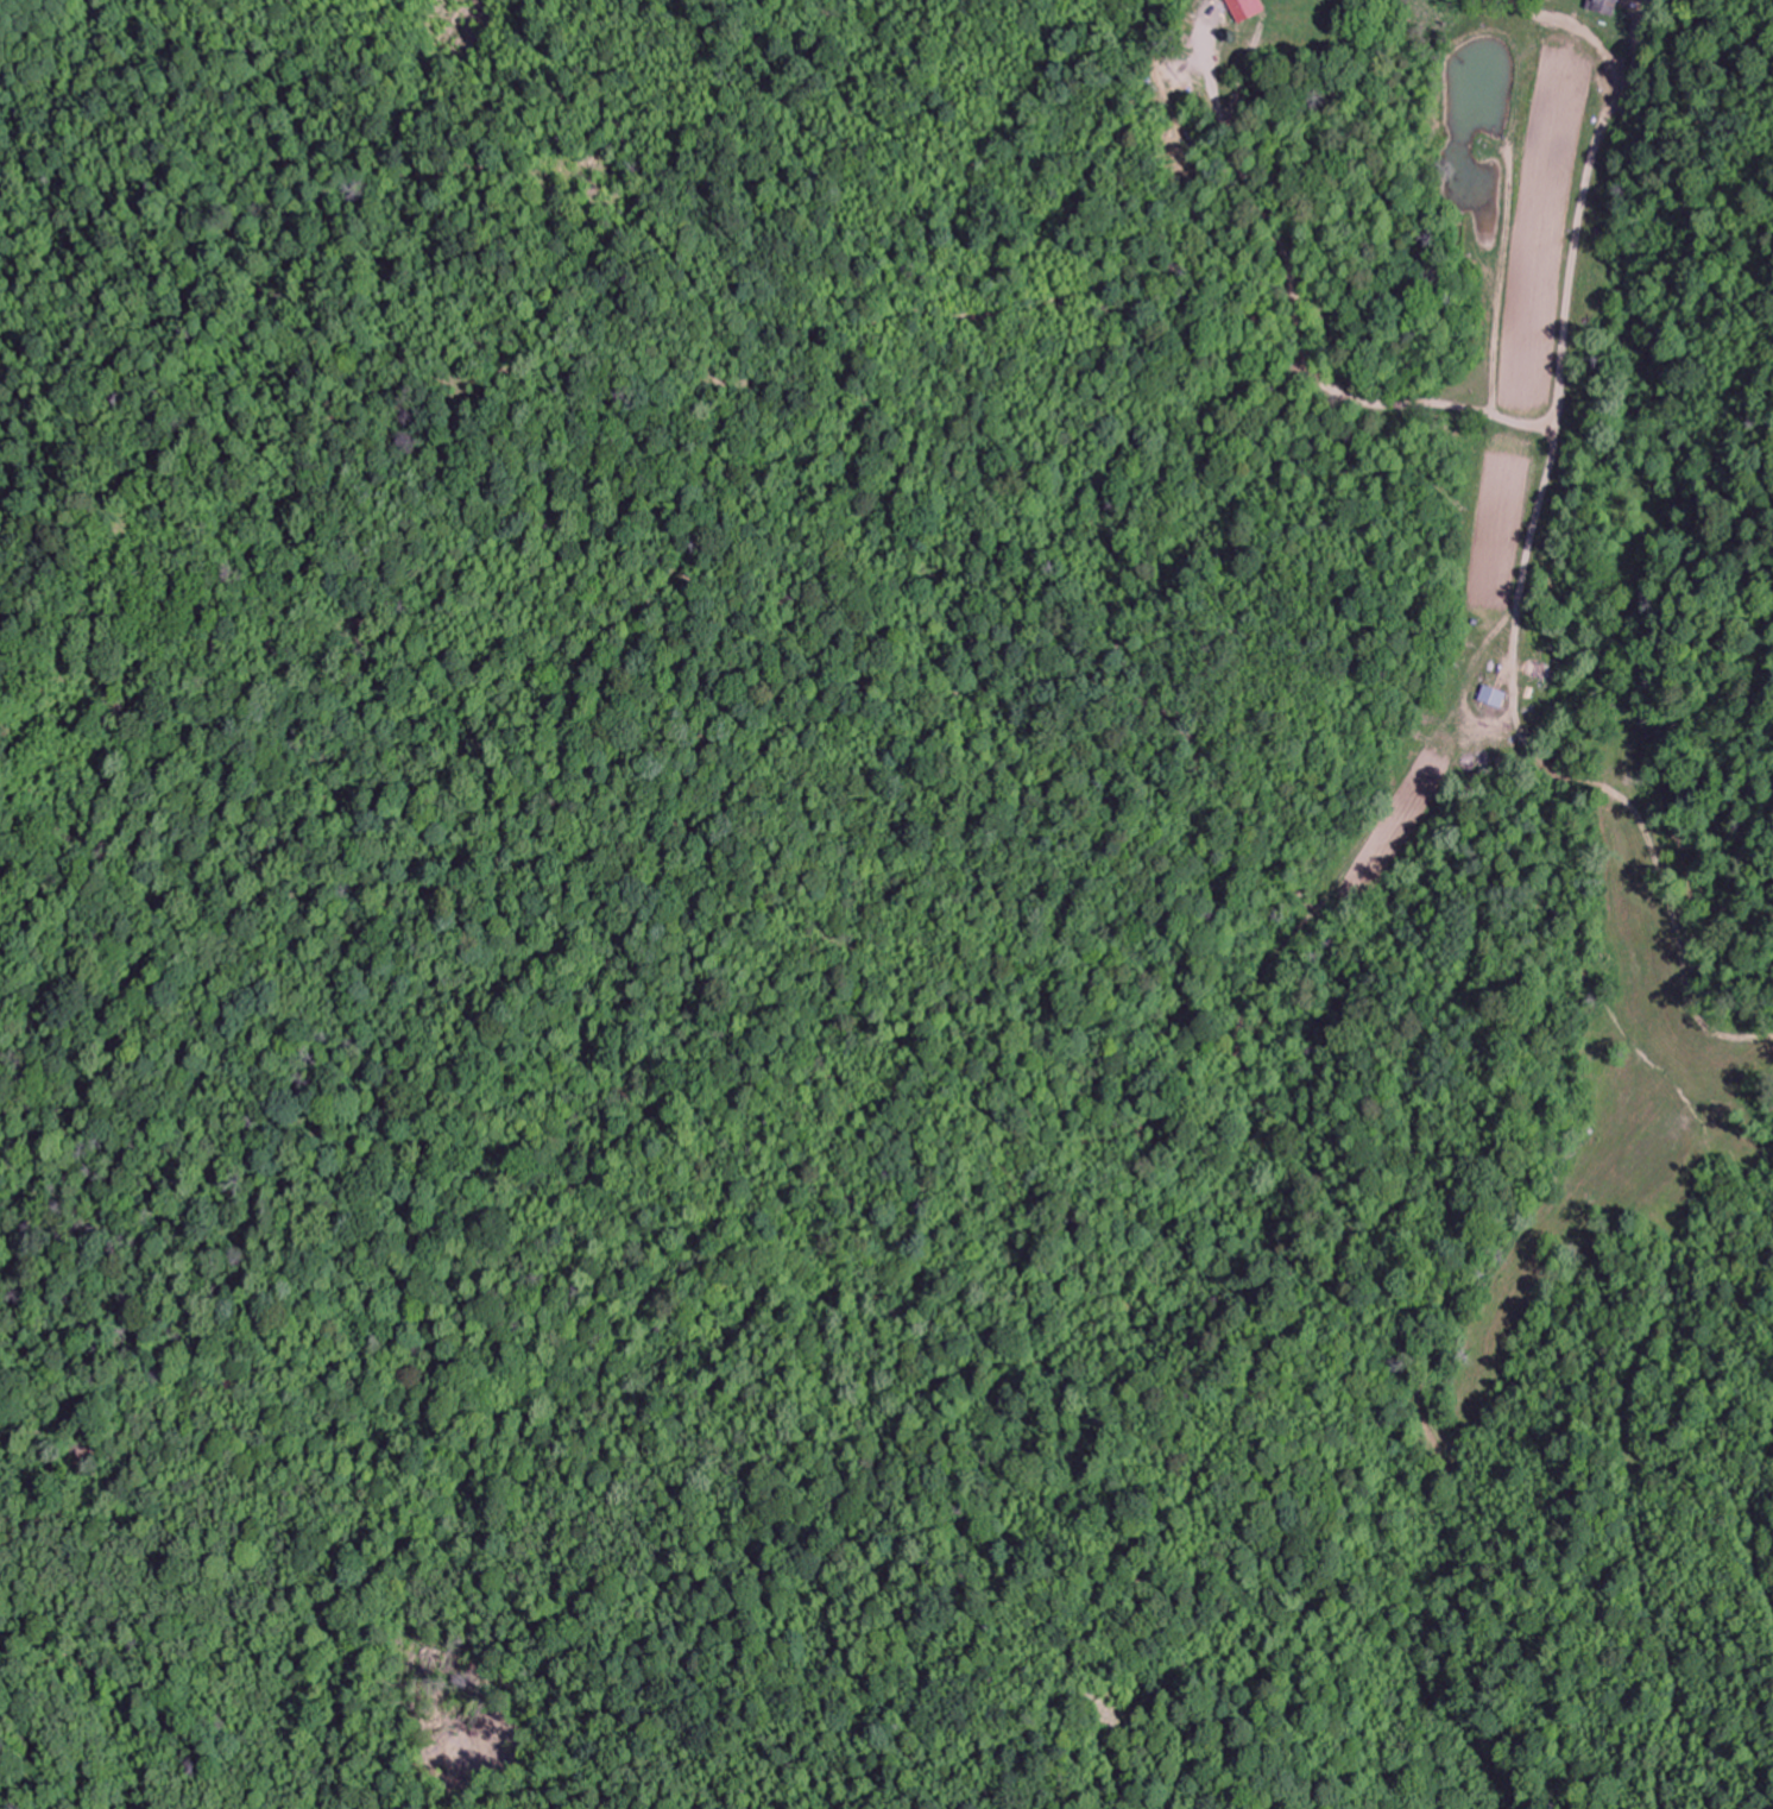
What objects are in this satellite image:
building: (1602, 7)

